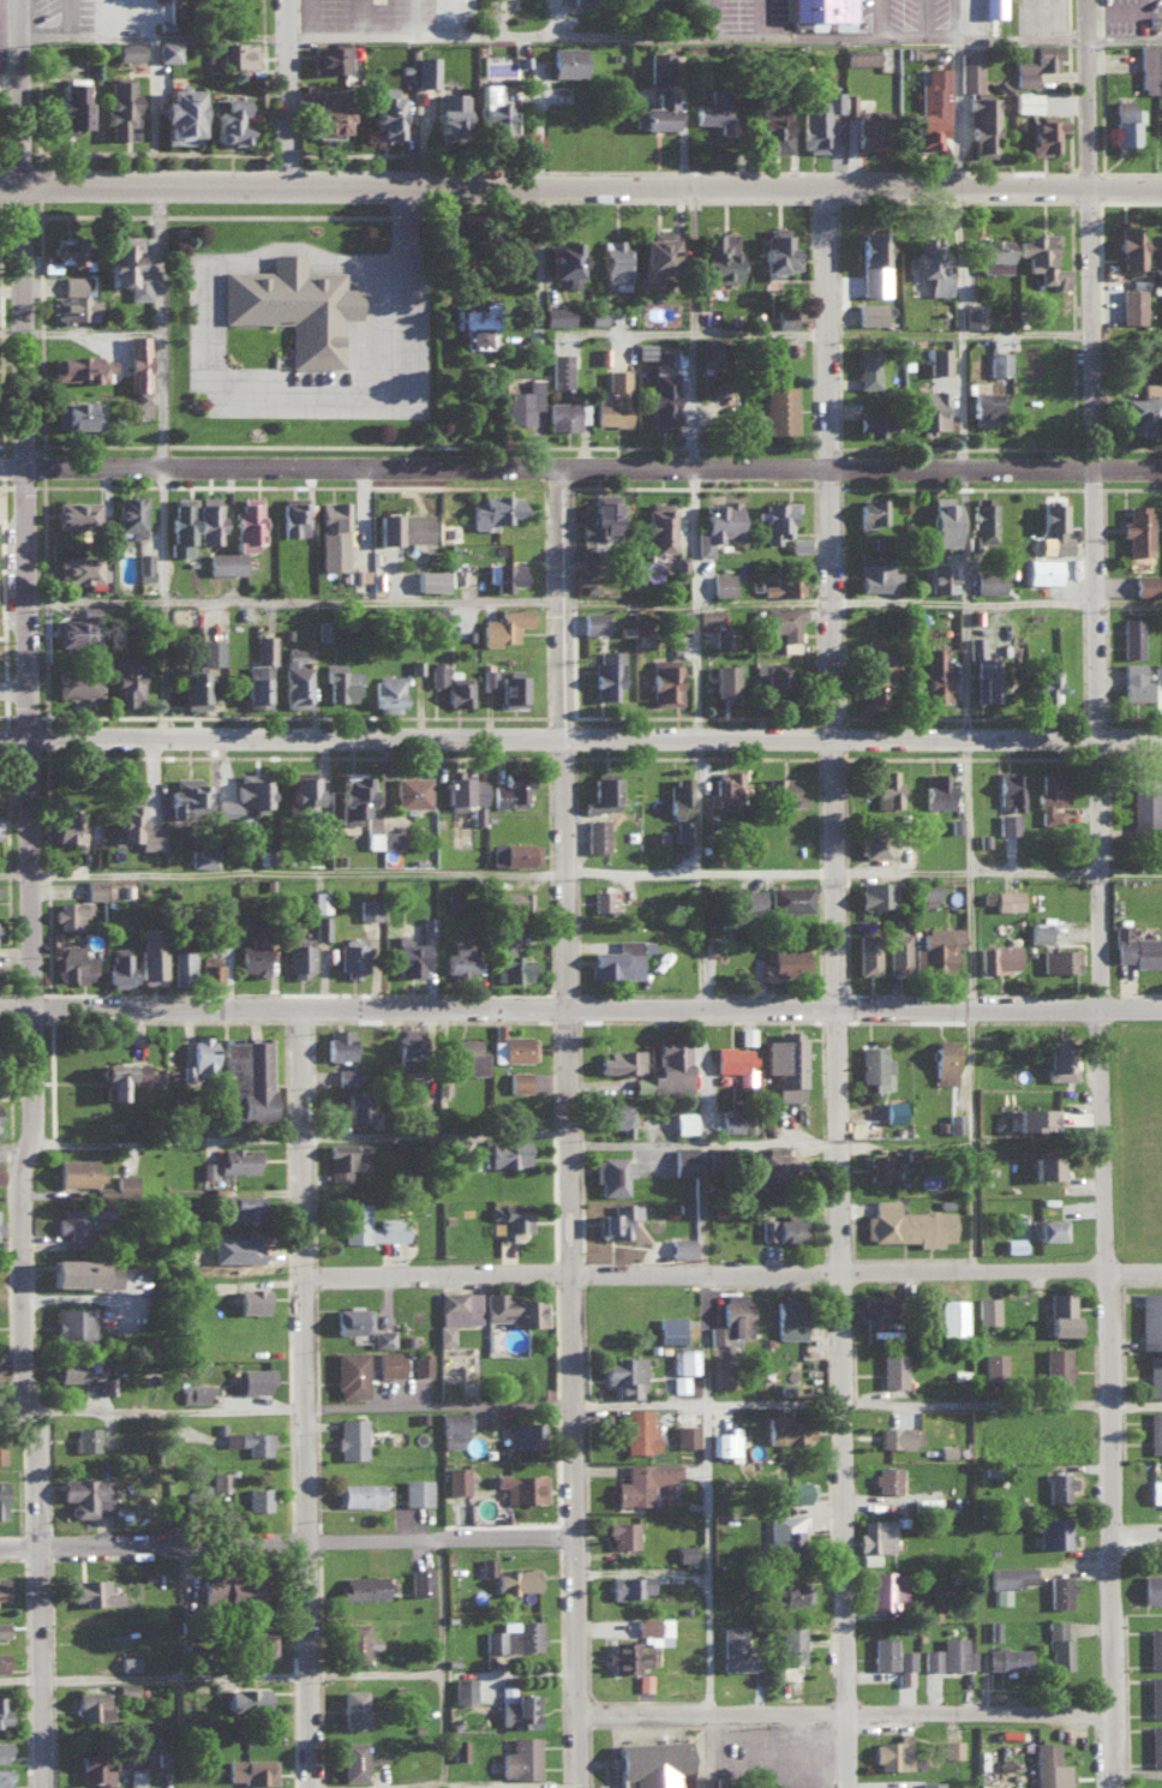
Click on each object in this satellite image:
building: (580, 1)
building: (993, 7)
building: (822, 12)
road: (413, 18)
road: (711, 19)
road: (760, 19)
road: (880, 19)
road: (926, 20)
road: (10, 32)
road: (591, 37)
building: (128, 49)
building: (168, 49)
building: (236, 53)
building: (861, 56)
building: (328, 58)
building: (1161, 58)
building: (567, 60)
building: (1035, 61)
building: (659, 66)
building: (1148, 67)
building: (426, 70)
road: (553, 90)
road: (20, 91)
road: (300, 91)
road: (1097, 92)
building: (1025, 100)
building: (67, 103)
building: (850, 103)
building: (977, 103)
building: (120, 107)
building: (930, 107)
building: (714, 108)
building: (328, 110)
building: (655, 112)
building: (387, 113)
building: (492, 113)
building: (449, 114)
building: (179, 115)
building: (817, 119)
building: (228, 120)
building: (1125, 122)
building: (772, 127)
building: (865, 127)
building: (1046, 131)
road: (581, 185)
building: (1130, 245)
building: (67, 250)
building: (775, 250)
building: (655, 251)
road: (958, 253)
building: (993, 253)
building: (719, 256)
building: (1042, 258)
building: (562, 261)
building: (874, 262)
building: (932, 263)
building: (125, 267)
building: (73, 300)
building: (293, 305)
building: (1131, 305)
building: (870, 312)
building: (556, 315)
building: (974, 315)
building: (784, 317)
building: (473, 322)
road: (553, 324)
road: (1031, 331)
road: (16, 333)
building: (643, 349)
building: (708, 349)
building: (939, 359)
building: (999, 361)
building: (82, 367)
building: (867, 367)
building: (559, 369)
road: (158, 371)
building: (138, 373)
building: (1150, 388)
road: (1102, 394)
road: (268, 395)
building: (661, 397)
building: (613, 399)
building: (522, 402)
building: (984, 407)
building: (775, 408)
building: (930, 409)
building: (1137, 411)
building: (79, 414)
building: (567, 414)
building: (874, 421)
road: (581, 464)
building: (495, 509)
building: (871, 512)
building: (76, 513)
building: (130, 514)
building: (293, 515)
building: (600, 518)
building: (209, 519)
building: (982, 519)
building: (777, 520)
building: (944, 520)
building: (247, 522)
building: (181, 525)
building: (659, 525)
building: (715, 525)
building: (1055, 526)
building: (403, 527)
building: (1137, 528)
building: (333, 534)
building: (798, 544)
building: (226, 562)
building: (681, 562)
building: (143, 566)
building: (79, 569)
building: (1042, 569)
building: (504, 574)
building: (878, 575)
building: (939, 578)
building: (430, 580)
building: (989, 580)
building: (721, 584)
building: (1144, 584)
building: (784, 587)
road: (36, 597)
road: (571, 599)
road: (963, 604)
building: (708, 615)
building: (681, 620)
building: (593, 621)
building: (784, 623)
building: (504, 624)
building: (76, 632)
building: (724, 636)
building: (1132, 636)
building: (264, 648)
building: (212, 651)
building: (876, 670)
building: (983, 670)
building: (1157, 671)
building: (606, 672)
building: (436, 675)
building: (936, 675)
building: (773, 676)
building: (295, 678)
building: (487, 678)
building: (126, 680)
building: (724, 680)
building: (664, 681)
building: (1134, 681)
building: (77, 682)
building: (340, 682)
building: (1044, 683)
building: (257, 686)
road: (14, 688)
building: (457, 688)
building: (511, 688)
building: (193, 689)
building: (387, 693)
road: (708, 729)
road: (580, 738)
building: (887, 788)
building: (462, 789)
building: (510, 789)
building: (725, 789)
building: (938, 789)
building: (1010, 789)
building: (411, 790)
building: (300, 791)
building: (781, 791)
building: (603, 794)
building: (245, 795)
building: (352, 795)
building: (678, 796)
building: (1052, 796)
building: (187, 797)
building: (1144, 801)
building: (1008, 823)
building: (66, 825)
building: (134, 827)
building: (682, 830)
building: (595, 835)
building: (381, 838)
building: (873, 843)
building: (514, 853)
building: (202, 857)
road: (280, 872)
road: (862, 873)
building: (94, 887)
building: (927, 889)
building: (876, 892)
building: (748, 897)
building: (790, 897)
building: (513, 898)
building: (603, 898)
building: (1007, 898)
building: (319, 899)
building: (367, 907)
building: (71, 911)
building: (427, 923)
building: (322, 925)
building: (1040, 931)
road: (569, 934)
building: (936, 946)
building: (1137, 946)
building: (408, 951)
building: (867, 951)
building: (898, 951)
building: (151, 953)
building: (252, 955)
building: (300, 955)
building: (352, 955)
building: (460, 956)
building: (998, 957)
building: (509, 958)
building: (1060, 958)
building: (617, 959)
building: (784, 961)
building: (74, 962)
building: (181, 962)
building: (120, 967)
building: (209, 967)
road: (845, 986)
road: (969, 1005)
road: (17, 1010)
road: (598, 1010)
building: (337, 1041)
building: (511, 1044)
building: (408, 1048)
building: (202, 1051)
building: (467, 1053)
building: (621, 1059)
building: (944, 1059)
building: (1060, 1060)
building: (736, 1062)
building: (786, 1062)
building: (875, 1065)
building: (667, 1068)
building: (346, 1075)
building: (119, 1076)
building: (244, 1076)
building: (519, 1080)
building: (358, 1107)
building: (892, 1111)
building: (615, 1114)
building: (1035, 1116)
building: (731, 1118)
building: (683, 1119)
building: (954, 1120)
road: (289, 1141)
road: (715, 1149)
building: (504, 1152)
building: (346, 1158)
building: (238, 1159)
building: (683, 1159)
building: (777, 1160)
building: (1047, 1164)
building: (880, 1165)
building: (206, 1168)
building: (78, 1170)
building: (612, 1172)
building: (124, 1183)
building: (104, 1189)
road: (1116, 1195)
building: (241, 1207)
building: (510, 1216)
building: (79, 1220)
building: (391, 1220)
building: (613, 1220)
building: (908, 1222)
building: (0, 1225)
building: (783, 1227)
building: (1048, 1227)
building: (682, 1245)
building: (82, 1270)
road: (731, 1274)
building: (251, 1298)
building: (459, 1305)
building: (513, 1308)
building: (879, 1308)
building: (988, 1309)
building: (1061, 1311)
building: (952, 1314)
building: (789, 1315)
building: (352, 1317)
building: (731, 1317)
building: (1150, 1317)
building: (72, 1321)
building: (670, 1328)
building: (887, 1332)
building: (444, 1333)
building: (383, 1336)
building: (993, 1361)
building: (389, 1362)
building: (420, 1362)
building: (1056, 1364)
building: (1, 1365)
building: (683, 1367)
building: (71, 1368)
building: (892, 1368)
building: (349, 1371)
building: (624, 1374)
building: (1154, 1375)
building: (252, 1379)
building: (786, 1386)
building: (194, 1391)
road: (300, 1398)
road: (30, 1399)
road: (853, 1405)
road: (1142, 1405)
road: (14, 1406)
road: (307, 1407)
building: (451, 1427)
building: (787, 1428)
building: (639, 1430)
building: (1155, 1430)
building: (522, 1433)
building: (685, 1434)
building: (894, 1435)
building: (85, 1436)
building: (349, 1436)
building: (248, 1440)
building: (725, 1441)
building: (1, 1447)
road: (585, 1471)
building: (886, 1477)
building: (220, 1478)
building: (456, 1478)
building: (645, 1481)
building: (521, 1485)
building: (1060, 1487)
building: (417, 1490)
building: (790, 1490)
building: (1155, 1490)
building: (358, 1493)
building: (85, 1495)
building: (1, 1497)
building: (259, 1497)
building: (785, 1530)
building: (1053, 1530)
road: (719, 1531)
building: (622, 1532)
building: (875, 1535)
road: (1143, 1536)
road: (292, 1542)
building: (685, 1550)
building: (486, 1565)
building: (516, 1579)
building: (1007, 1579)
building: (419, 1580)
building: (629, 1584)
building: (363, 1585)
building: (1, 1586)
building: (1151, 1586)
building: (232, 1589)
building: (791, 1589)
building: (887, 1589)
building: (92, 1590)
building: (1059, 1590)
road: (441, 1596)
building: (2, 1627)
building: (993, 1628)
building: (654, 1629)
building: (514, 1635)
building: (352, 1639)
building: (258, 1642)
building: (792, 1642)
building: (1058, 1644)
building: (735, 1646)
building: (1155, 1646)
building: (884, 1651)
building: (950, 1654)
building: (627, 1655)
building: (1007, 1656)
building: (2, 1661)
building: (128, 1661)
road: (585, 1663)
building: (905, 1666)
road: (293, 1674)
building: (643, 1680)
building: (463, 1688)
building: (1155, 1694)
building: (247, 1697)
building: (91, 1704)
building: (517, 1705)
building: (351, 1706)
building: (2, 1709)
road: (857, 1716)
building: (1155, 1744)
building: (459, 1747)
building: (952, 1747)
building: (2, 1750)
building: (893, 1752)
building: (520, 1757)
building: (351, 1759)
building: (651, 1764)
building: (97, 1765)
building: (1049, 1766)
building: (251, 1769)
road: (1144, 1770)
building: (4, 1777)
building: (930, 1783)

